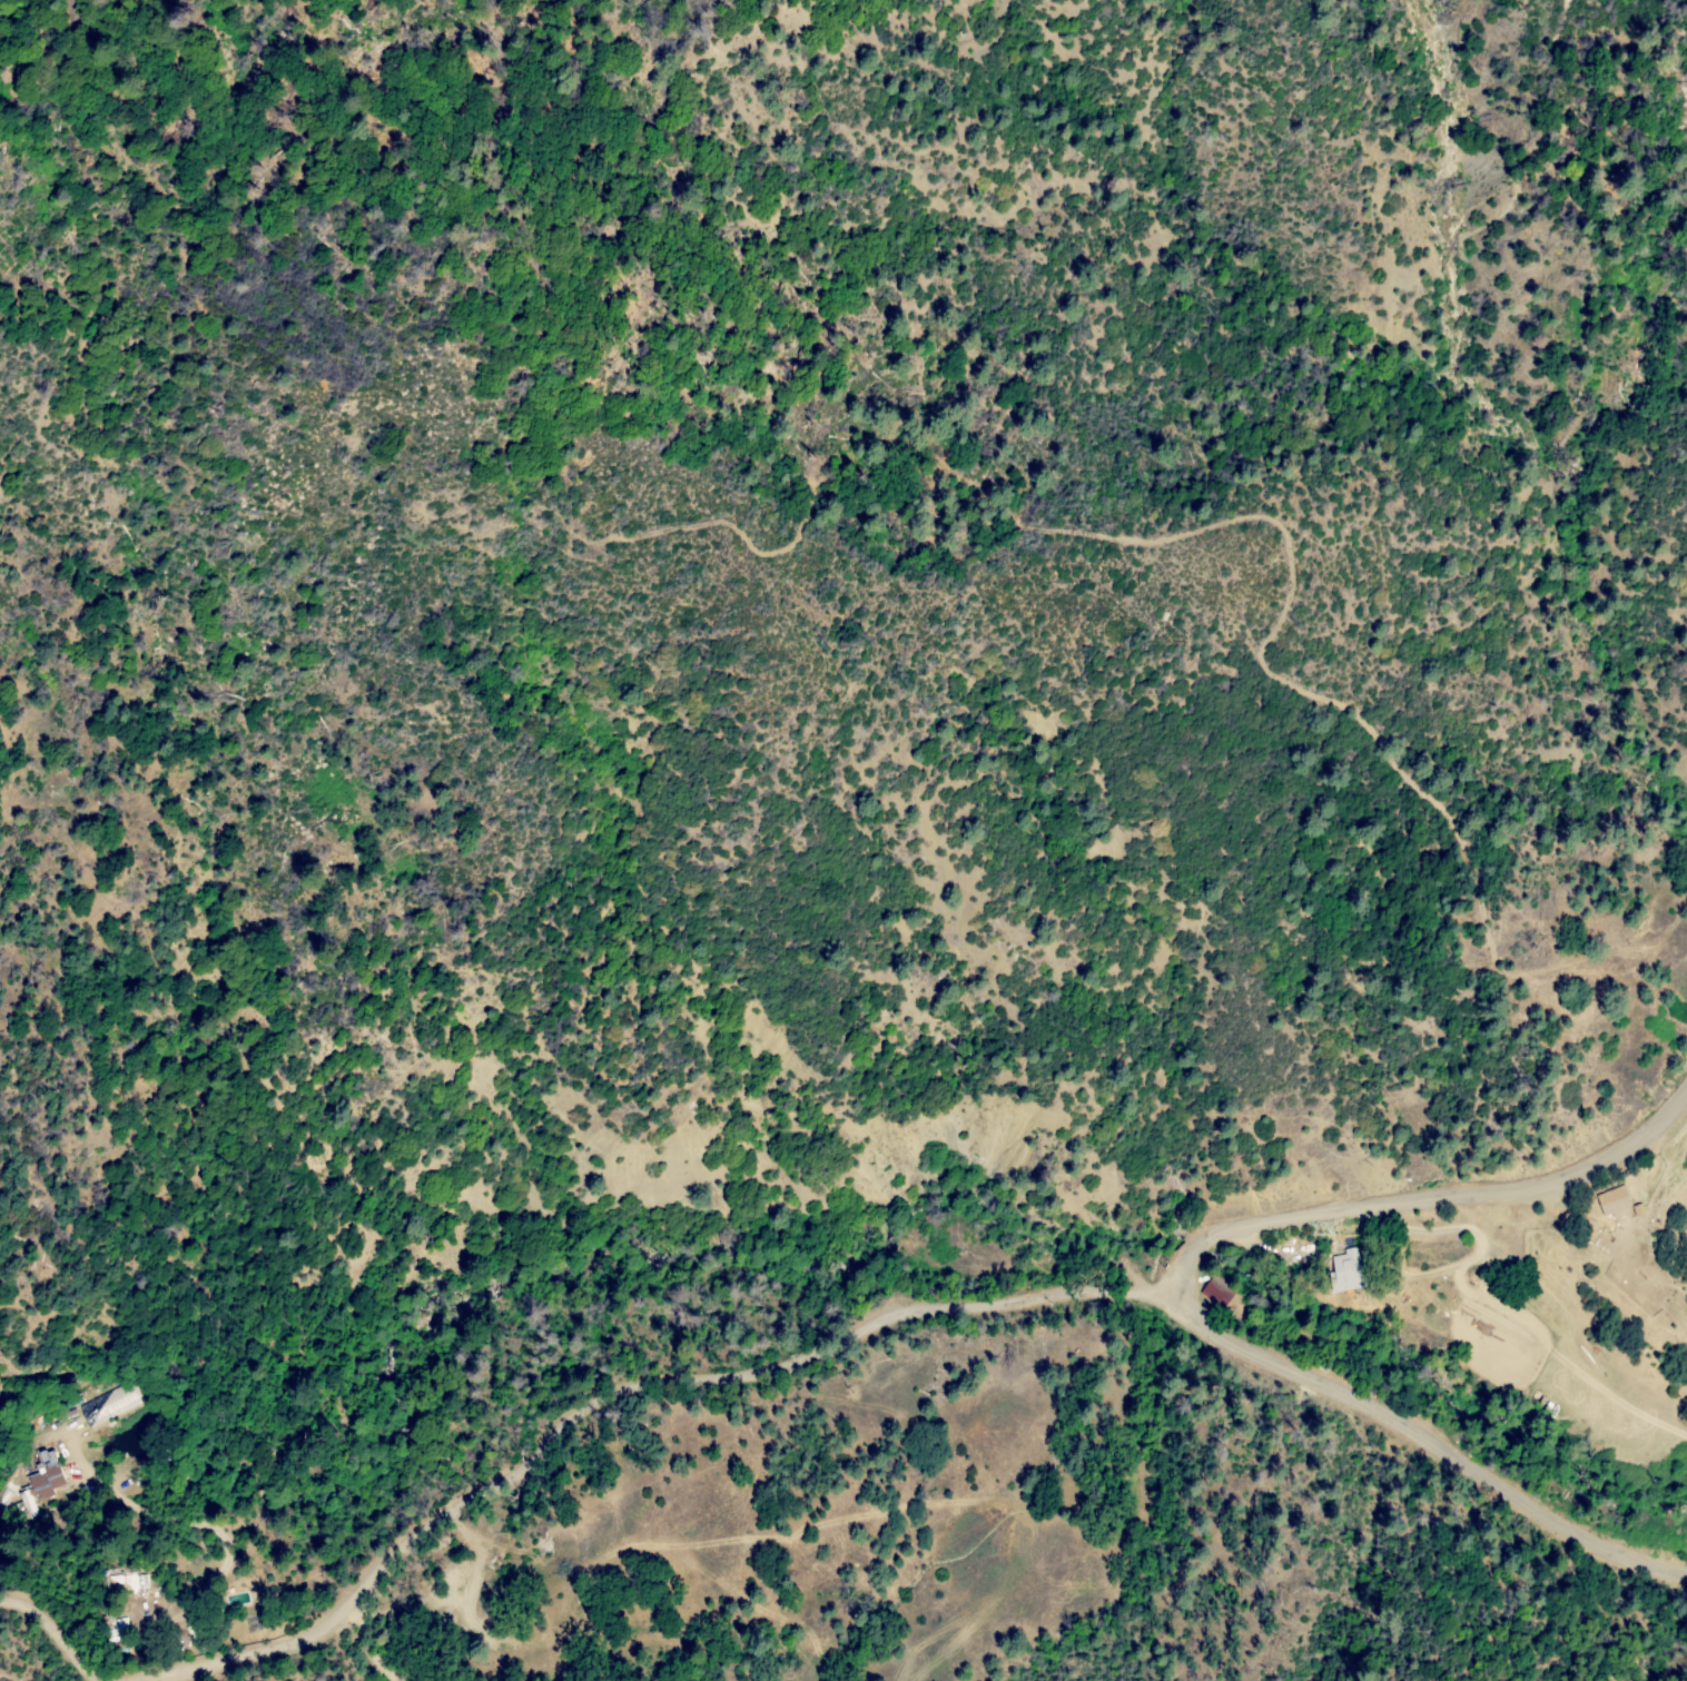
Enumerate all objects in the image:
road: (1245, 511)
building: (1616, 1202)
building: (1637, 1209)
building: (1346, 1269)
building: (1217, 1294)
road: (1188, 1295)
building: (1674, 1308)
road: (631, 1390)
building: (38, 1484)
building: (128, 1583)
building: (238, 1593)
building: (116, 1630)
road: (55, 1633)
road: (379, 1645)

